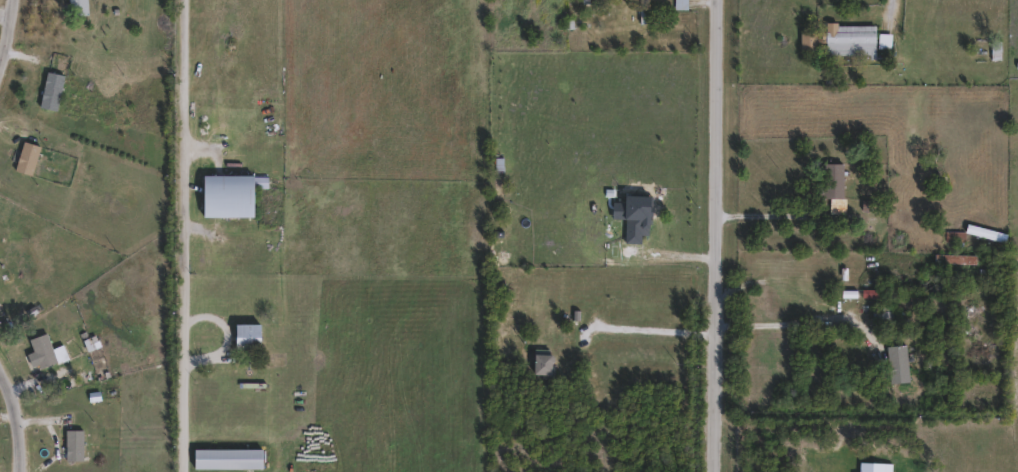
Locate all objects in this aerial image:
building: (682, 4)
building: (80, 8)
road: (896, 8)
building: (646, 13)
road: (8, 36)
building: (857, 40)
building: (998, 50)
building: (54, 93)
building: (29, 160)
building: (500, 162)
building: (497, 166)
building: (840, 182)
building: (234, 198)
road: (770, 210)
building: (647, 219)
road: (187, 236)
road: (723, 236)
road: (686, 249)
building: (887, 314)
road: (782, 319)
road: (652, 332)
building: (253, 338)
building: (46, 353)
building: (892, 357)
building: (547, 364)
road: (46, 378)
road: (47, 418)
road: (15, 421)
building: (76, 447)
building: (232, 461)

